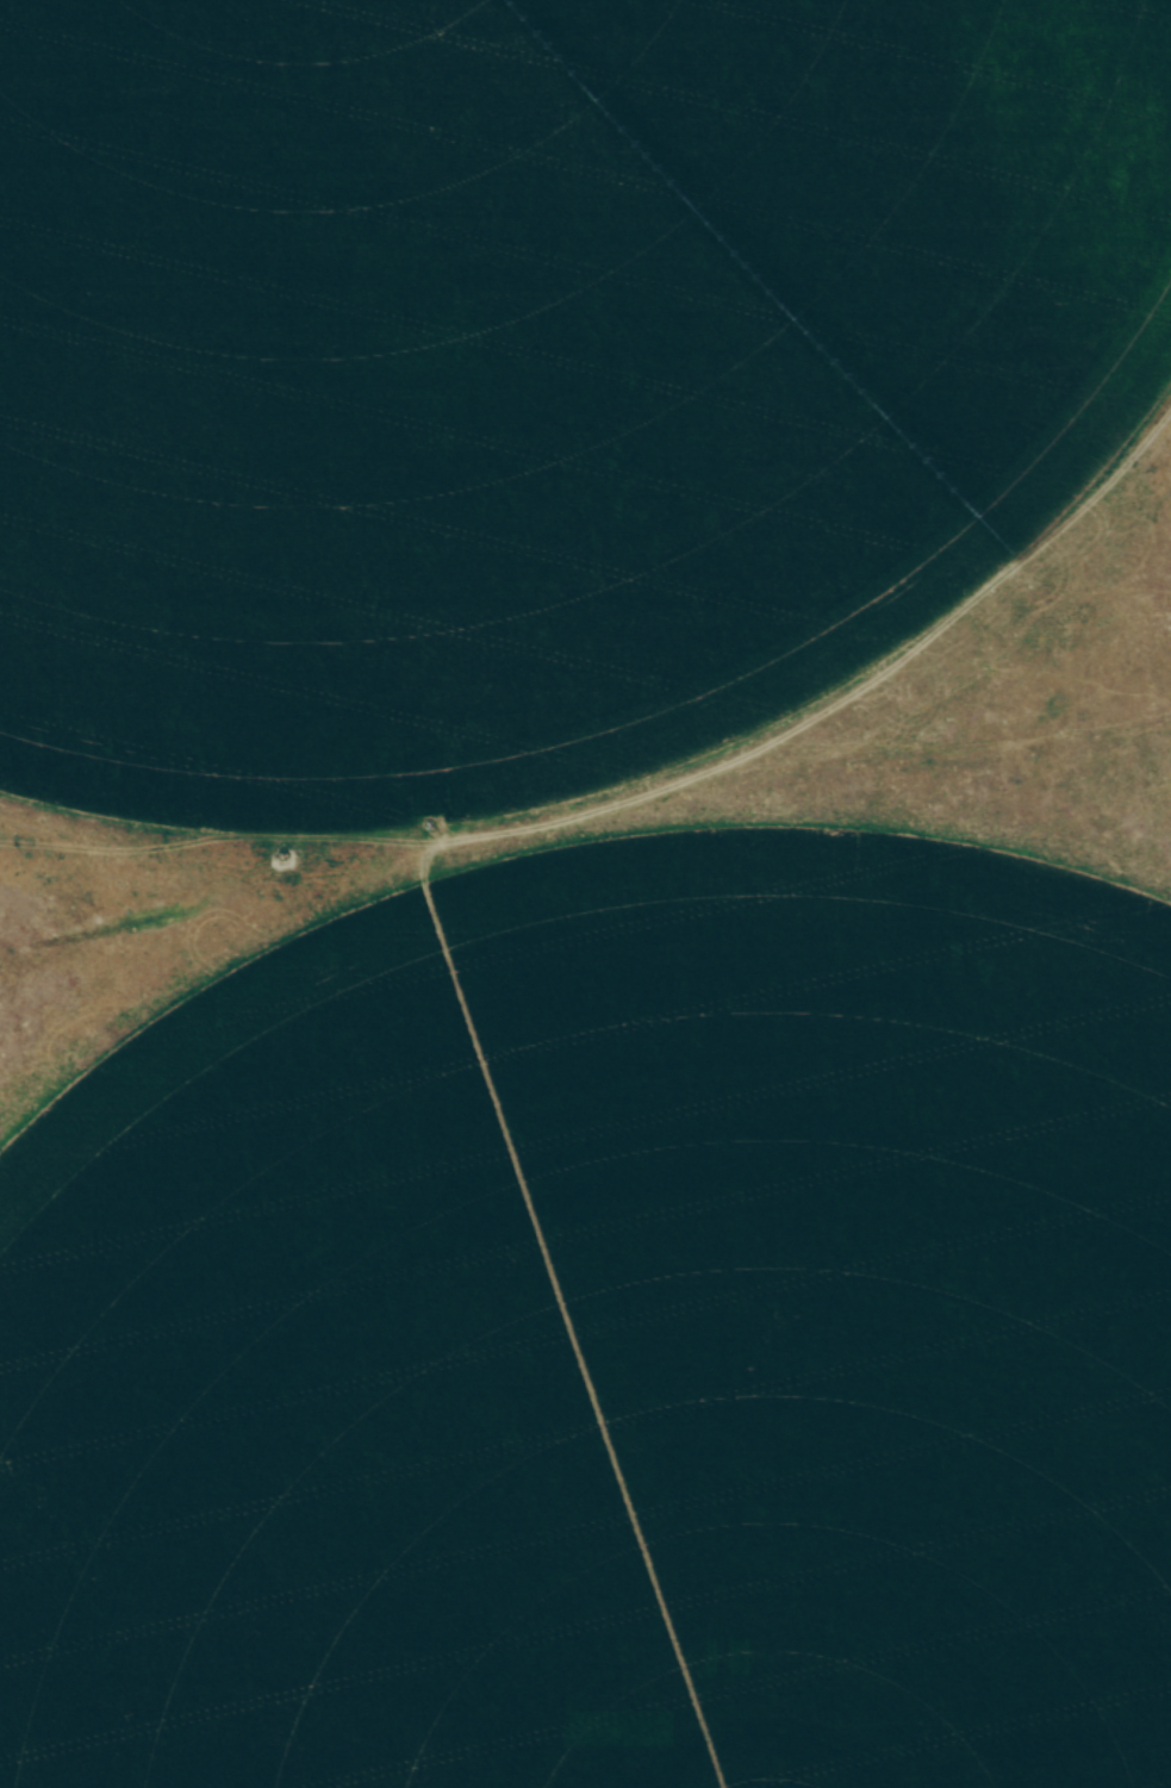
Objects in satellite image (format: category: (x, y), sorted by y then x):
crop: (532, 372)
crop: (609, 1341)

